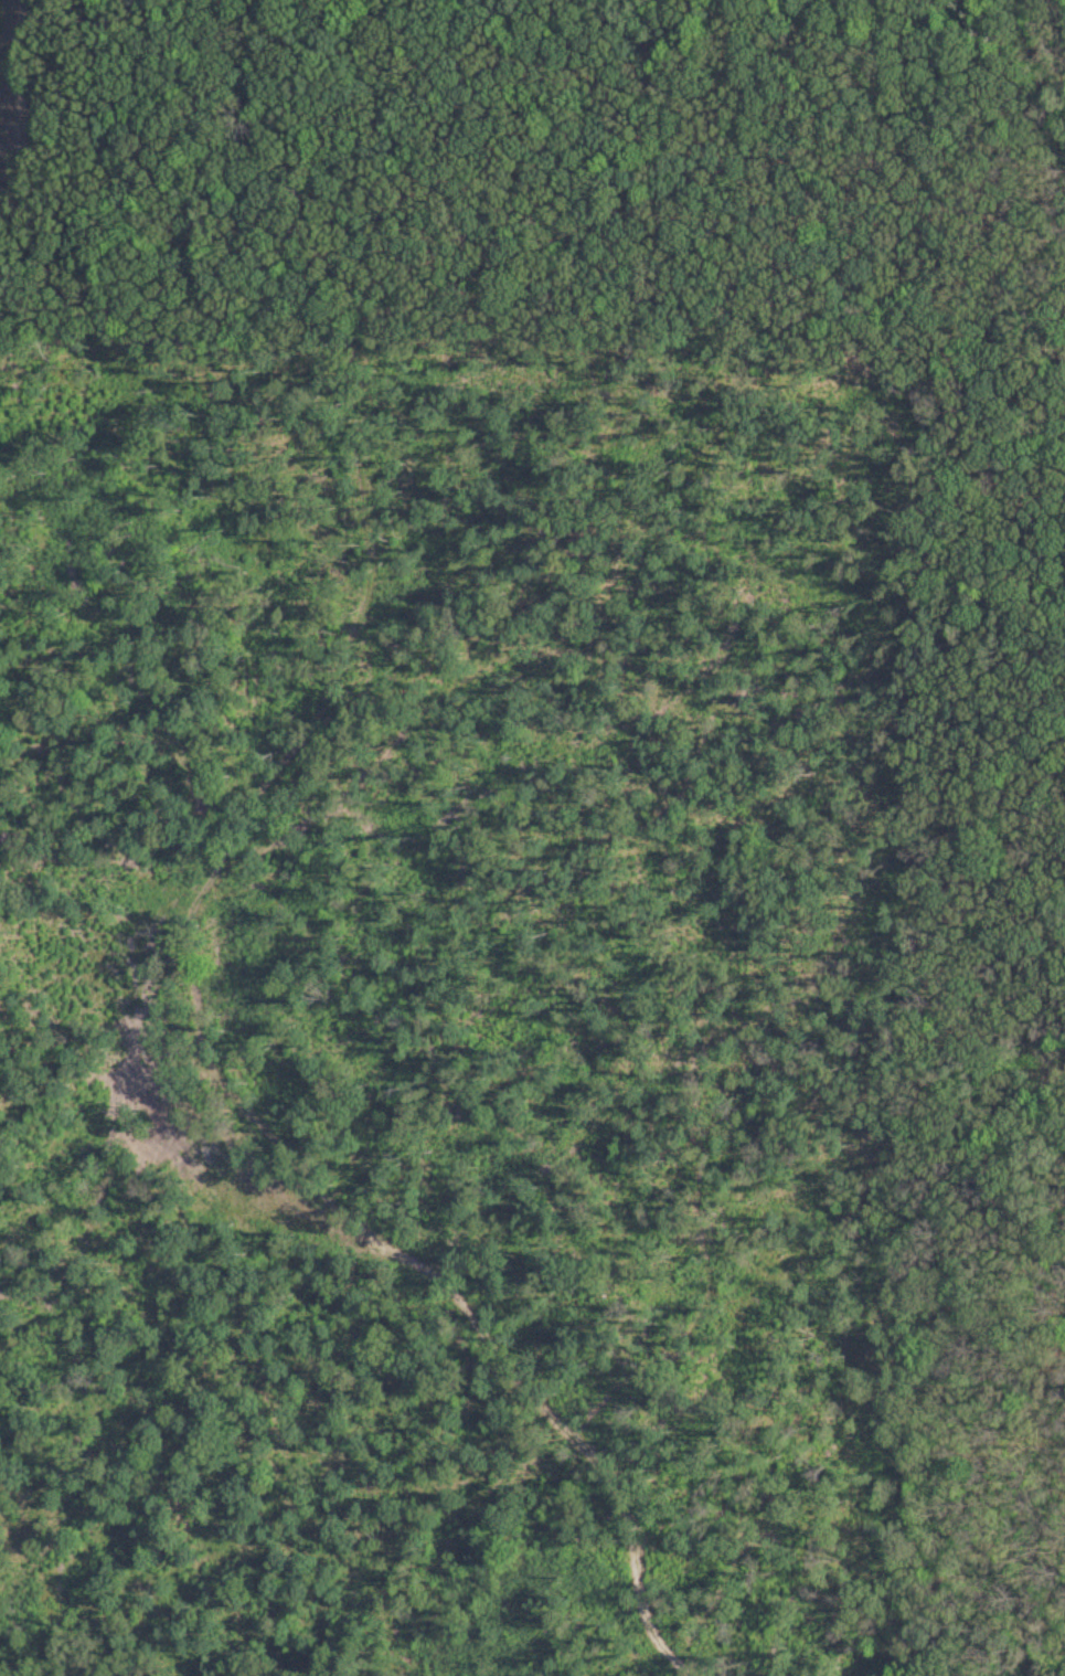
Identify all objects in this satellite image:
road: (991, 487)
road: (1002, 1075)

